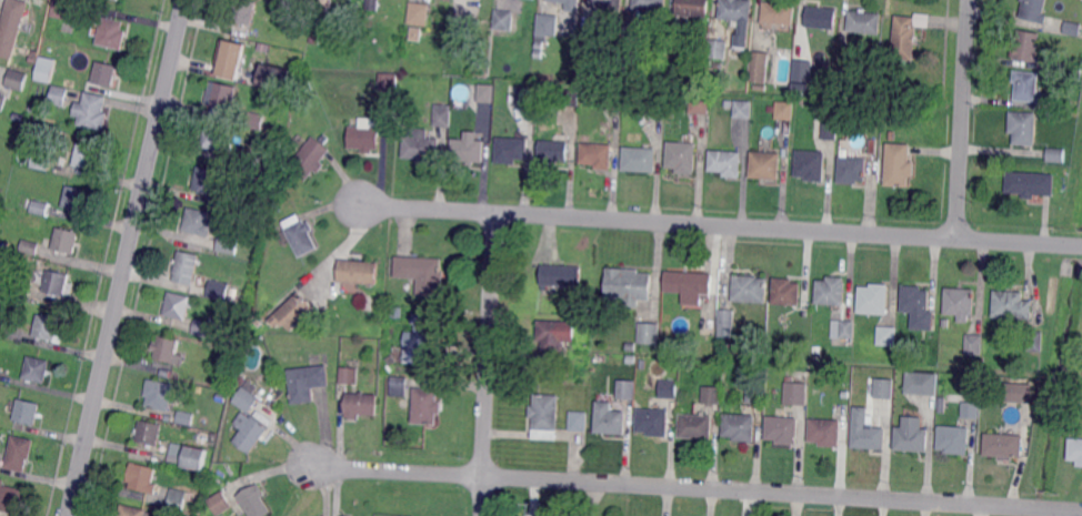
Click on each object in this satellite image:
building: (325, 3)
building: (371, 4)
building: (569, 4)
building: (651, 4)
building: (607, 6)
building: (694, 8)
building: (61, 9)
building: (732, 10)
building: (1035, 10)
building: (244, 11)
building: (780, 12)
building: (418, 13)
building: (822, 17)
building: (503, 21)
building: (865, 21)
building: (11, 27)
building: (1073, 27)
building: (463, 29)
building: (544, 29)
building: (632, 30)
building: (112, 33)
building: (415, 34)
building: (590, 38)
building: (667, 38)
building: (905, 38)
building: (313, 40)
building: (1028, 45)
building: (263, 48)
building: (717, 49)
building: (232, 53)
building: (1074, 65)
building: (759, 67)
building: (44, 69)
building: (799, 69)
building: (106, 73)
building: (274, 78)
building: (17, 79)
building: (388, 81)
building: (371, 84)
building: (1030, 89)
building: (487, 92)
building: (505, 93)
building: (529, 94)
building: (60, 95)
building: (570, 95)
building: (21, 97)
building: (303, 97)
building: (614, 99)
building: (684, 100)
building: (223, 101)
building: (658, 101)
building: (3, 102)
building: (700, 104)
building: (743, 109)
building: (771, 110)
building: (785, 110)
building: (91, 111)
building: (874, 112)
building: (519, 115)
building: (442, 117)
road: (963, 119)
building: (256, 120)
building: (1024, 127)
building: (825, 130)
building: (217, 136)
building: (364, 136)
building: (279, 141)
building: (419, 146)
building: (872, 146)
building: (468, 150)
building: (511, 150)
building: (554, 150)
building: (598, 154)
building: (1056, 154)
building: (87, 155)
building: (683, 156)
building: (309, 159)
building: (640, 159)
building: (41, 160)
building: (727, 162)
building: (262, 164)
building: (767, 164)
building: (812, 164)
building: (900, 164)
building: (853, 169)
building: (207, 180)
building: (1031, 183)
building: (77, 199)
building: (277, 206)
building: (41, 208)
building: (198, 222)
road: (721, 225)
building: (300, 235)
building: (67, 240)
building: (229, 243)
building: (3, 246)
building: (31, 246)
road: (128, 257)
building: (187, 266)
building: (359, 271)
building: (423, 273)
building: (561, 275)
building: (57, 282)
building: (689, 282)
building: (630, 285)
building: (22, 287)
building: (219, 289)
building: (273, 289)
building: (751, 289)
building: (832, 291)
building: (787, 292)
building: (234, 293)
building: (874, 299)
building: (961, 302)
building: (178, 305)
building: (1013, 305)
building: (919, 306)
building: (398, 312)
building: (288, 313)
building: (725, 320)
building: (948, 322)
building: (1, 327)
building: (48, 328)
building: (209, 328)
building: (844, 328)
building: (555, 334)
building: (648, 334)
building: (889, 335)
building: (424, 336)
building: (1036, 341)
building: (975, 344)
building: (630, 346)
building: (166, 350)
building: (391, 361)
road: (489, 364)
building: (642, 364)
building: (690, 364)
building: (37, 368)
building: (349, 376)
building: (307, 383)
building: (922, 383)
building: (399, 386)
building: (882, 386)
building: (670, 388)
building: (628, 389)
building: (1019, 392)
building: (757, 393)
building: (160, 394)
building: (713, 394)
building: (795, 394)
building: (247, 401)
building: (359, 405)
building: (943, 405)
building: (427, 406)
building: (888, 406)
building: (972, 409)
building: (28, 411)
building: (544, 416)
building: (187, 417)
building: (610, 418)
building: (580, 421)
building: (654, 421)
building: (697, 426)
building: (741, 426)
building: (784, 428)
building: (826, 431)
building: (868, 431)
building: (249, 432)
building: (148, 434)
building: (913, 435)
building: (213, 438)
building: (955, 438)
building: (1004, 445)
building: (1075, 451)
building: (20, 453)
building: (188, 457)
building: (142, 477)
road: (697, 487)
building: (10, 497)
building: (177, 499)
building: (256, 502)
building: (219, 504)
building: (132, 512)
building: (343, 515)

